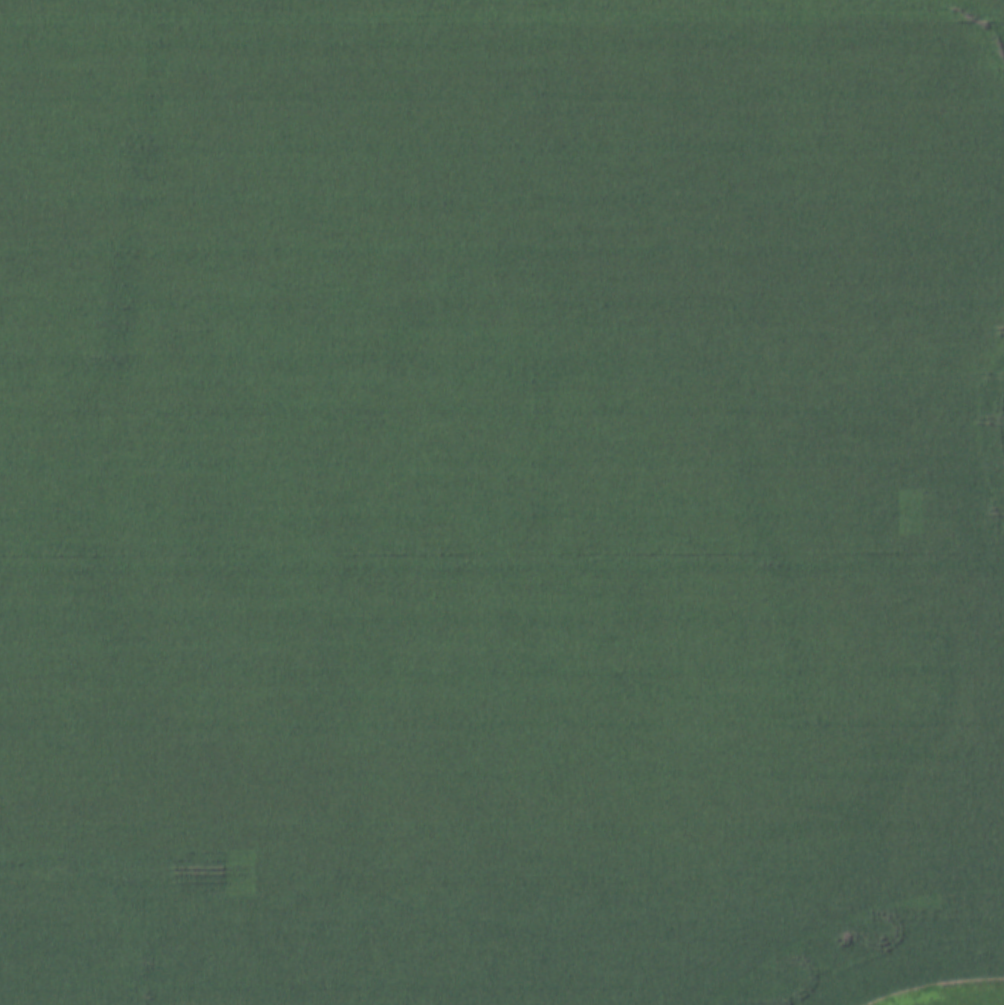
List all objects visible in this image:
crop: (500, 501)

